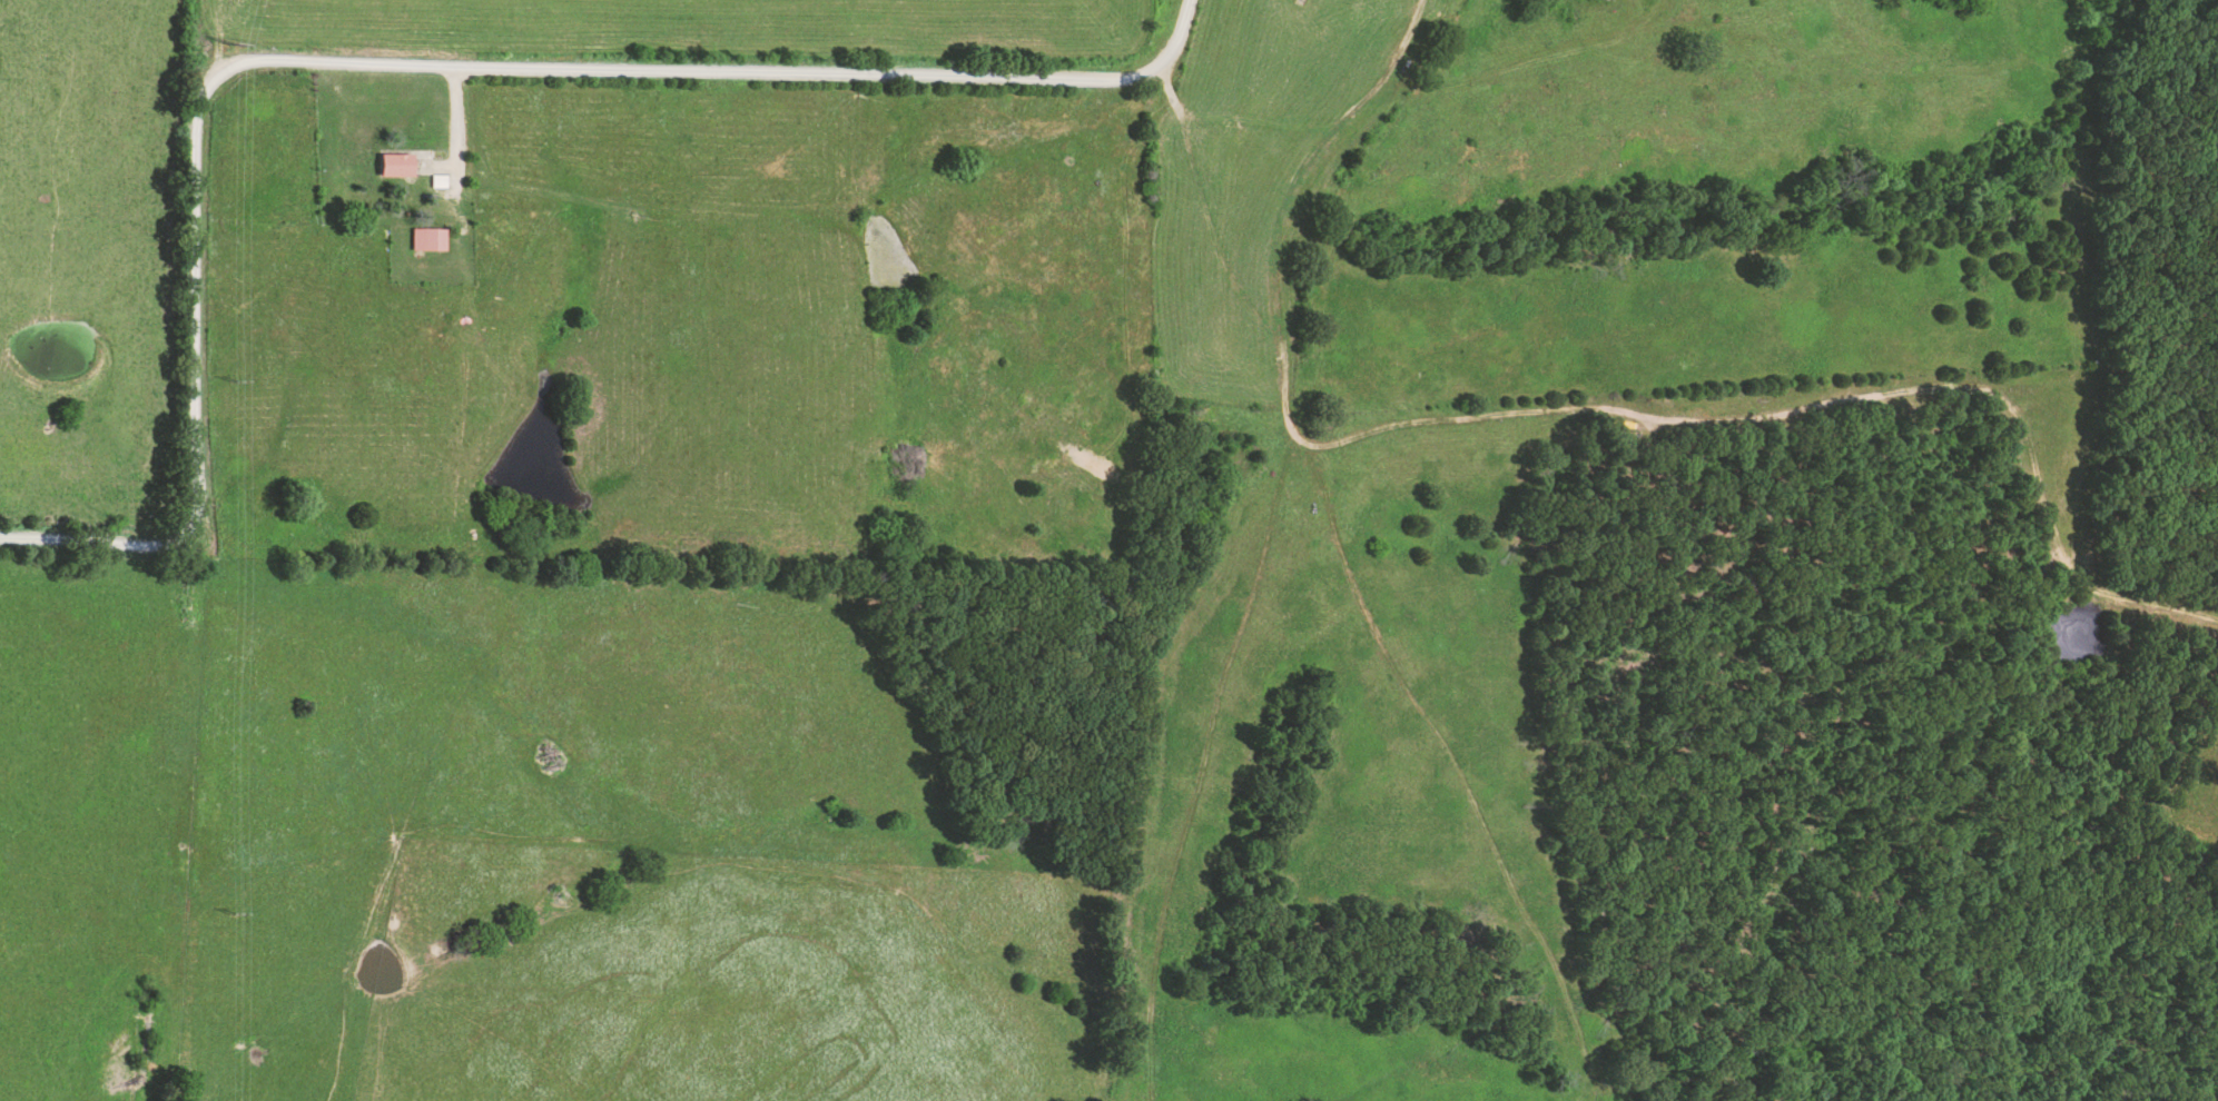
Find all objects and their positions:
road: (424, 73)
building: (394, 163)
building: (438, 180)
building: (426, 238)

